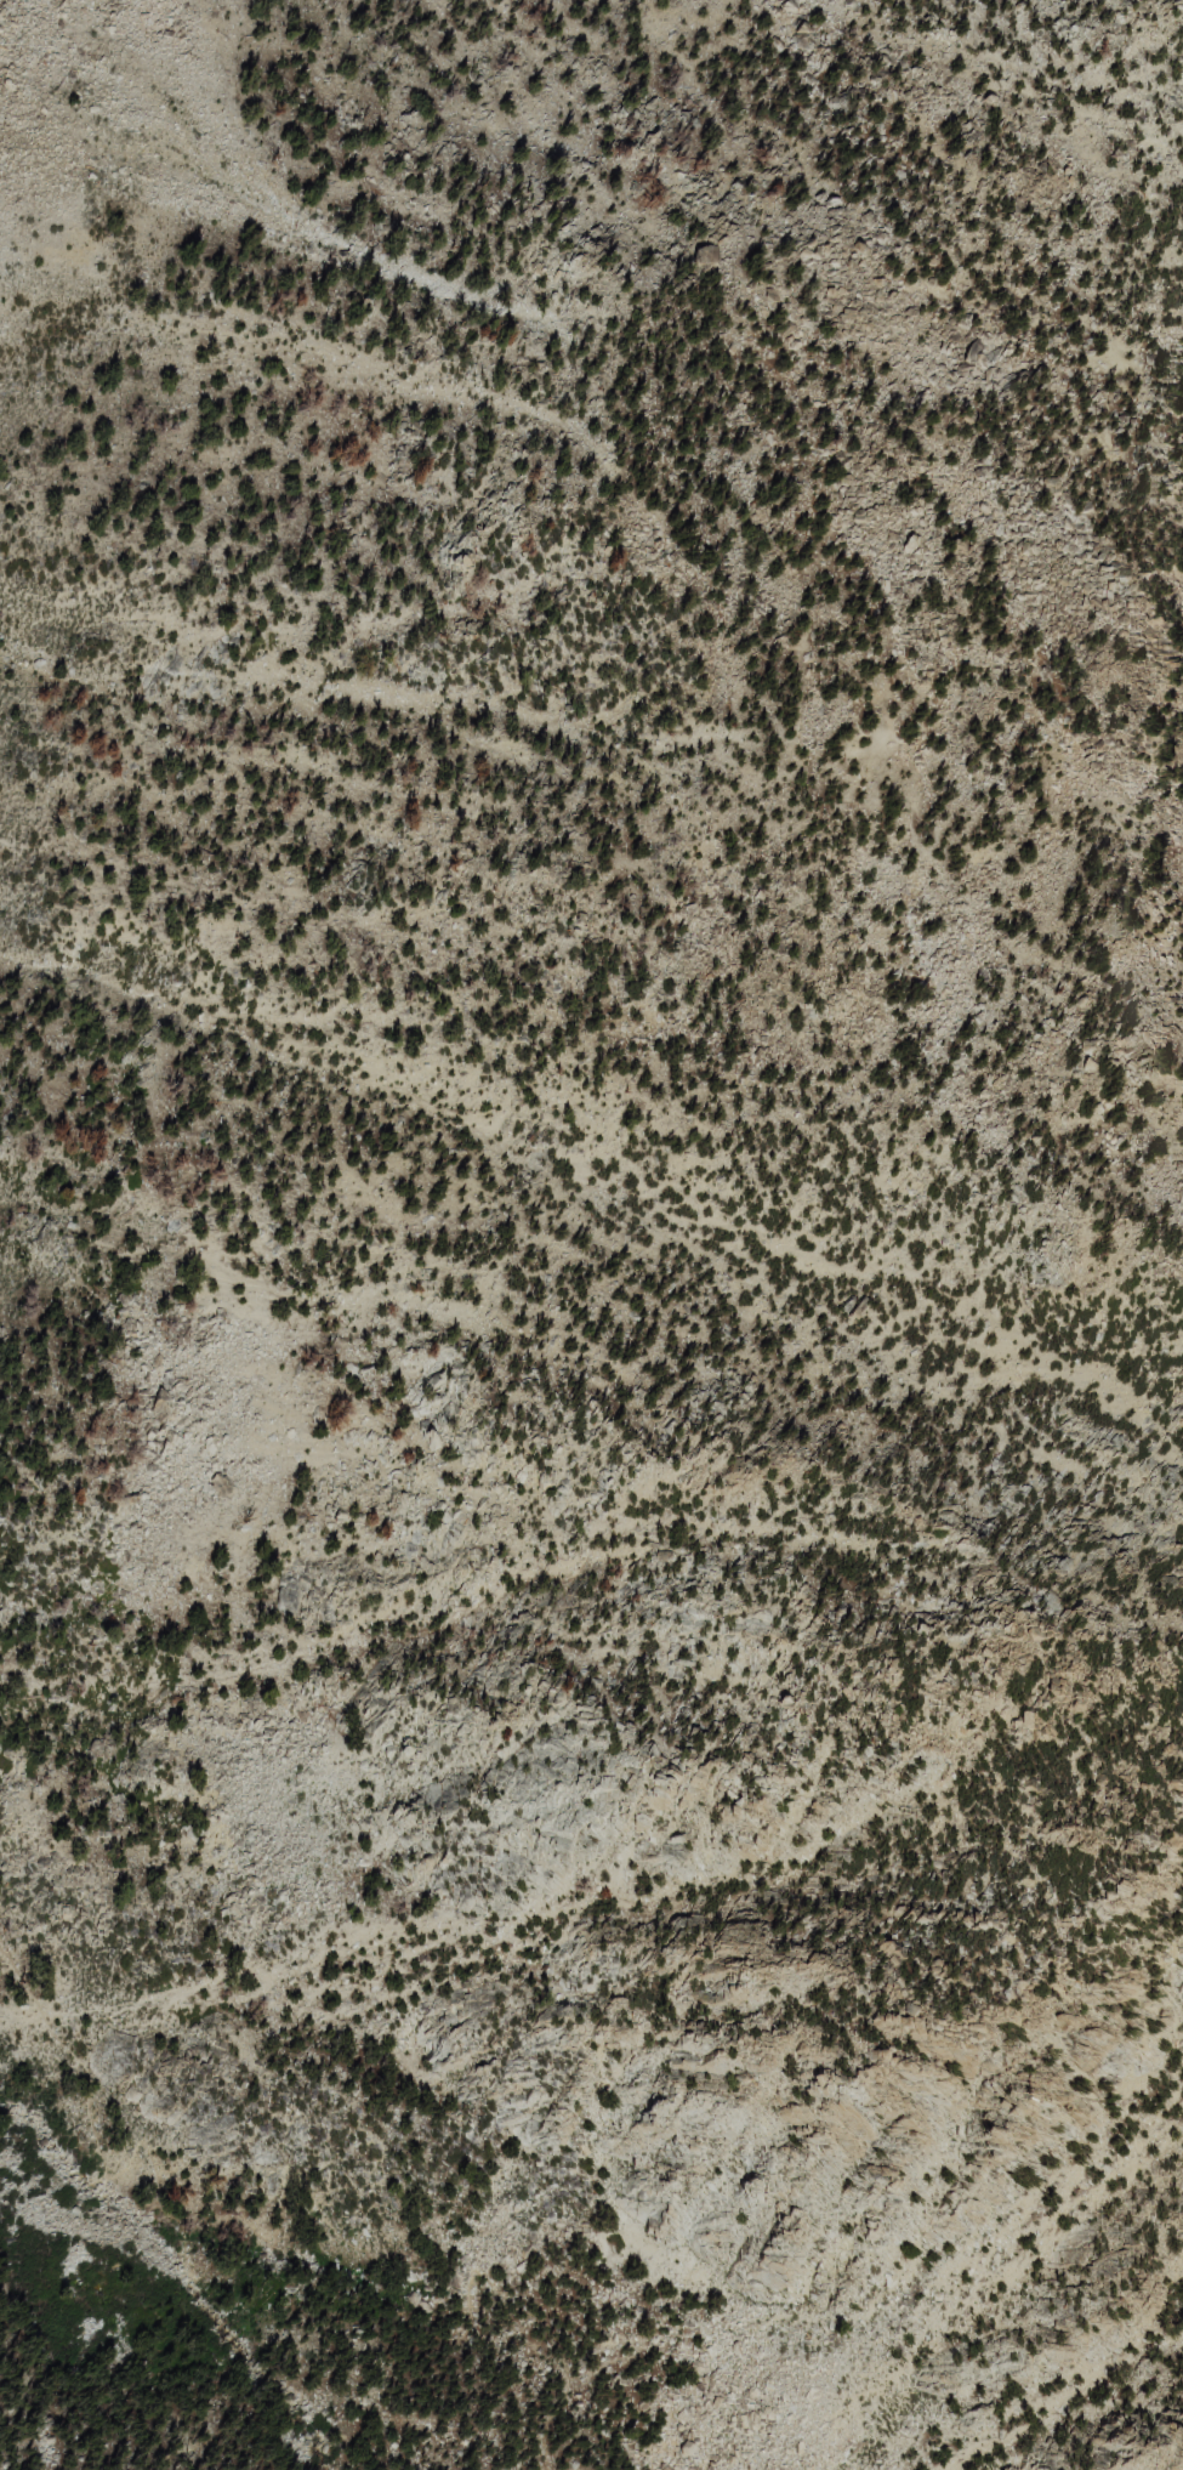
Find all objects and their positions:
road: (267, 2192)

